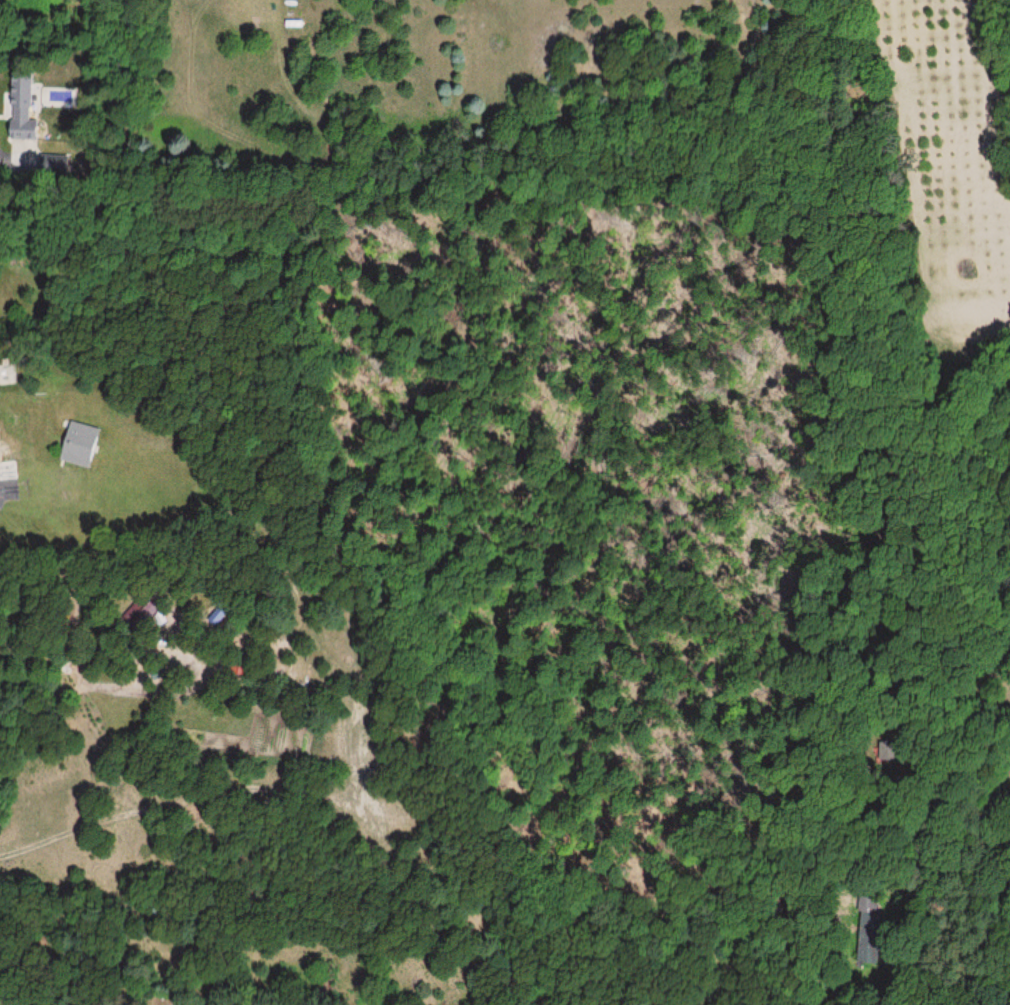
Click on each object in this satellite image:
building: (19, 108)
building: (77, 447)
building: (7, 470)
building: (886, 912)

